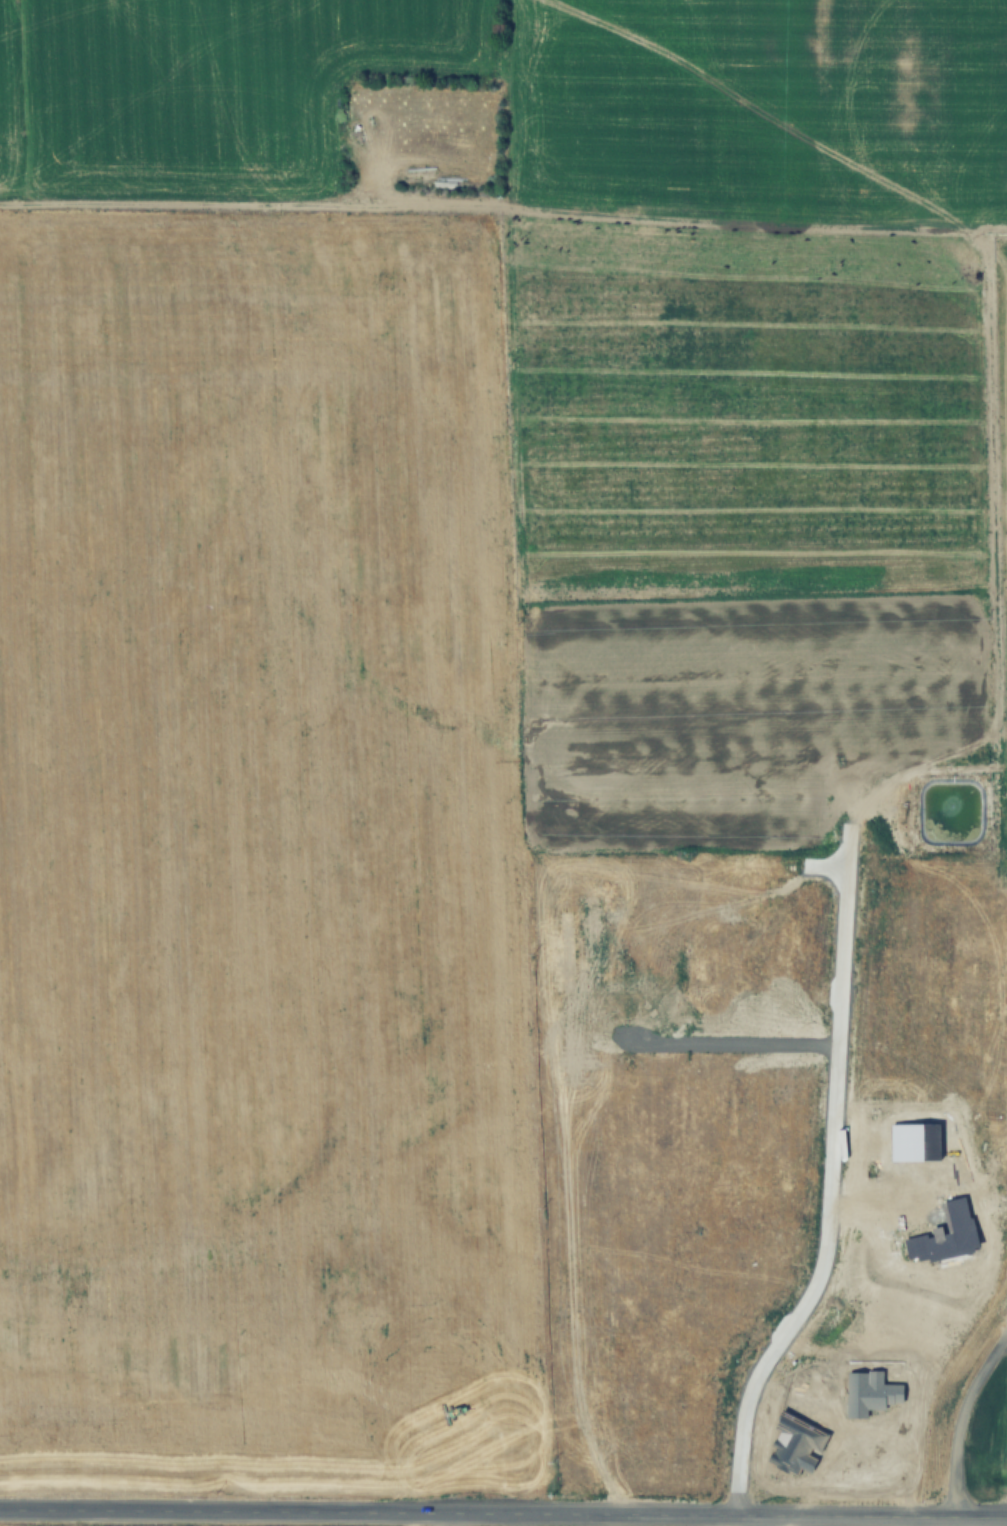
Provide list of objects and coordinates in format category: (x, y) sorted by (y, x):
road: (503, 1515)
crop: (190, 1524)

